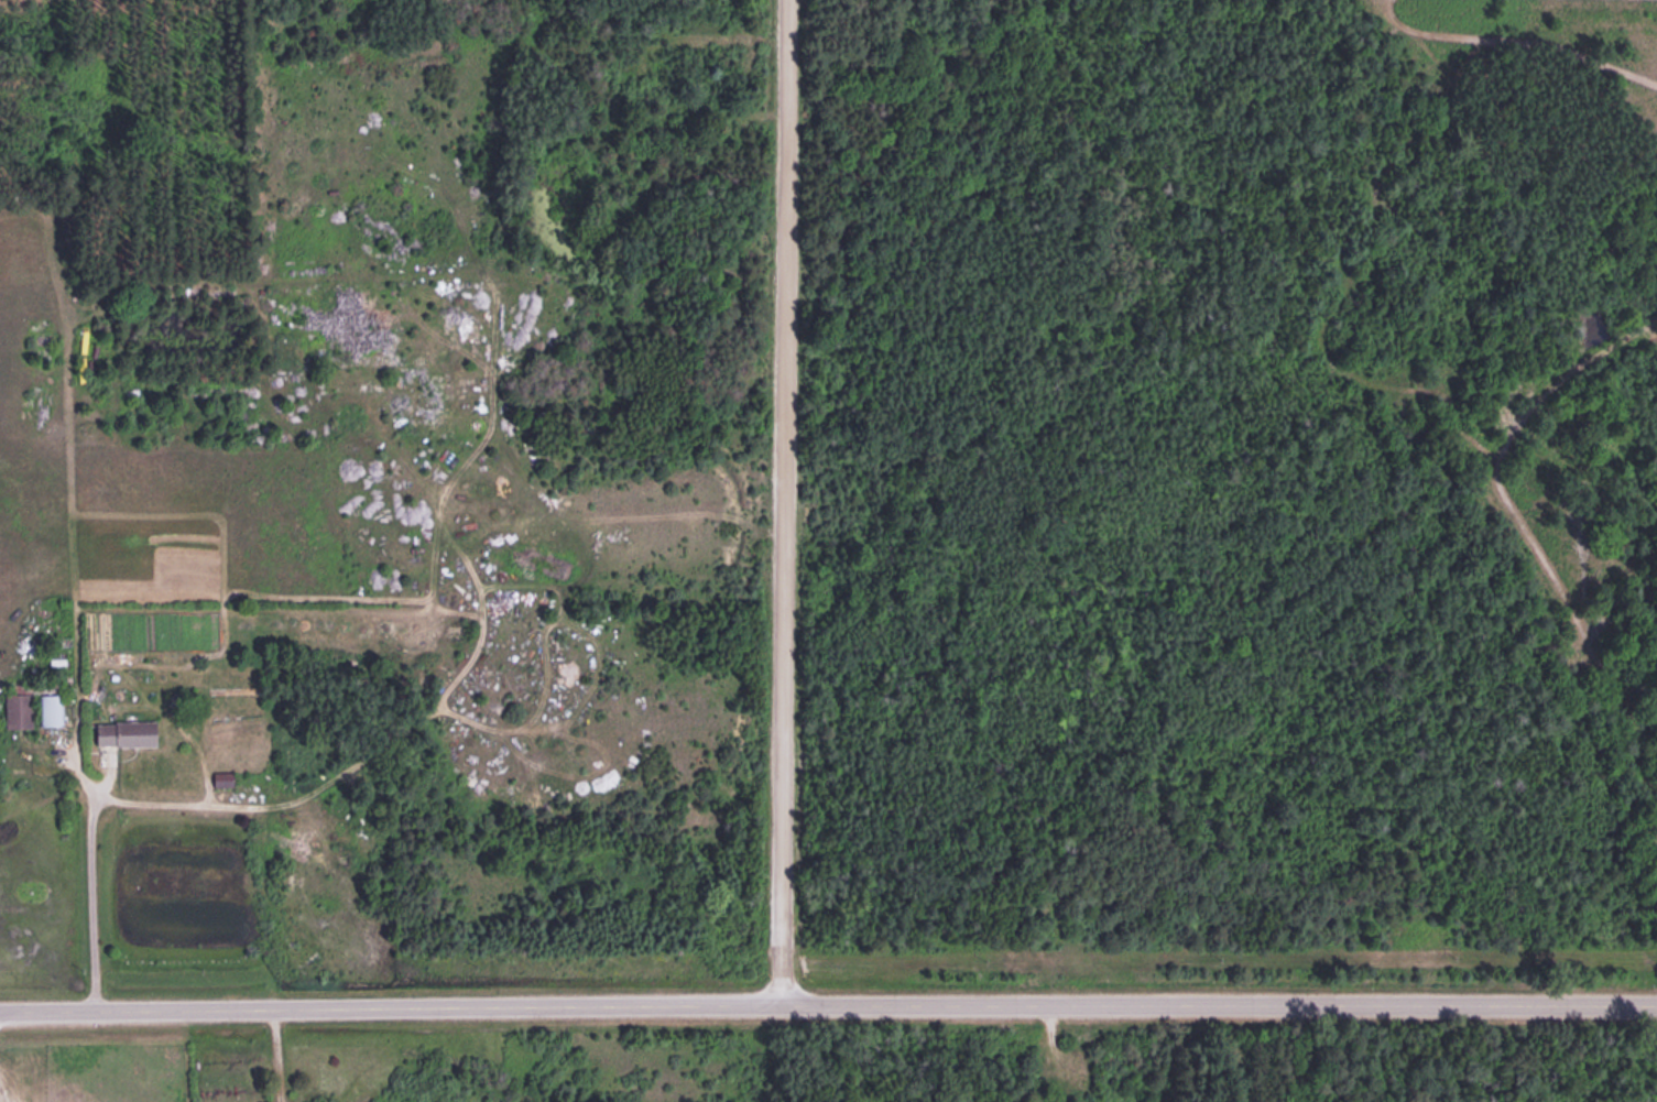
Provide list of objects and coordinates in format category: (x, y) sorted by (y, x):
road: (787, 502)
building: (48, 709)
building: (15, 710)
building: (122, 733)
building: (221, 777)
road: (828, 1004)

